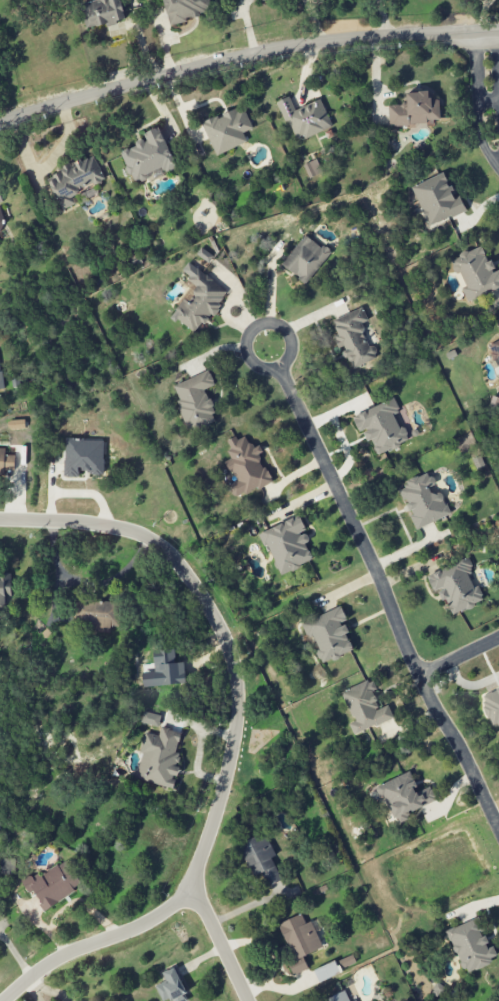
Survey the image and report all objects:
building: (262, 0)
building: (185, 9)
building: (102, 12)
road: (246, 60)
road: (476, 68)
road: (488, 101)
building: (414, 110)
building: (304, 118)
building: (227, 130)
road: (480, 136)
building: (148, 156)
building: (312, 168)
building: (74, 180)
building: (0, 199)
building: (437, 200)
building: (1, 221)
building: (305, 259)
building: (475, 273)
building: (198, 300)
building: (353, 338)
road: (246, 348)
building: (494, 350)
building: (0, 380)
building: (195, 401)
building: (17, 424)
building: (381, 426)
building: (83, 457)
building: (6, 464)
building: (246, 467)
building: (423, 501)
building: (287, 545)
road: (86, 582)
building: (456, 586)
building: (4, 590)
road: (388, 597)
building: (97, 614)
building: (329, 634)
road: (459, 657)
building: (492, 705)
building: (364, 707)
building: (150, 719)
road: (235, 737)
building: (159, 758)
building: (404, 797)
building: (260, 858)
building: (52, 884)
road: (81, 903)
road: (46, 931)
building: (299, 941)
building: (471, 945)
road: (220, 946)
building: (326, 971)
building: (171, 987)
building: (338, 997)
building: (355, 1000)

